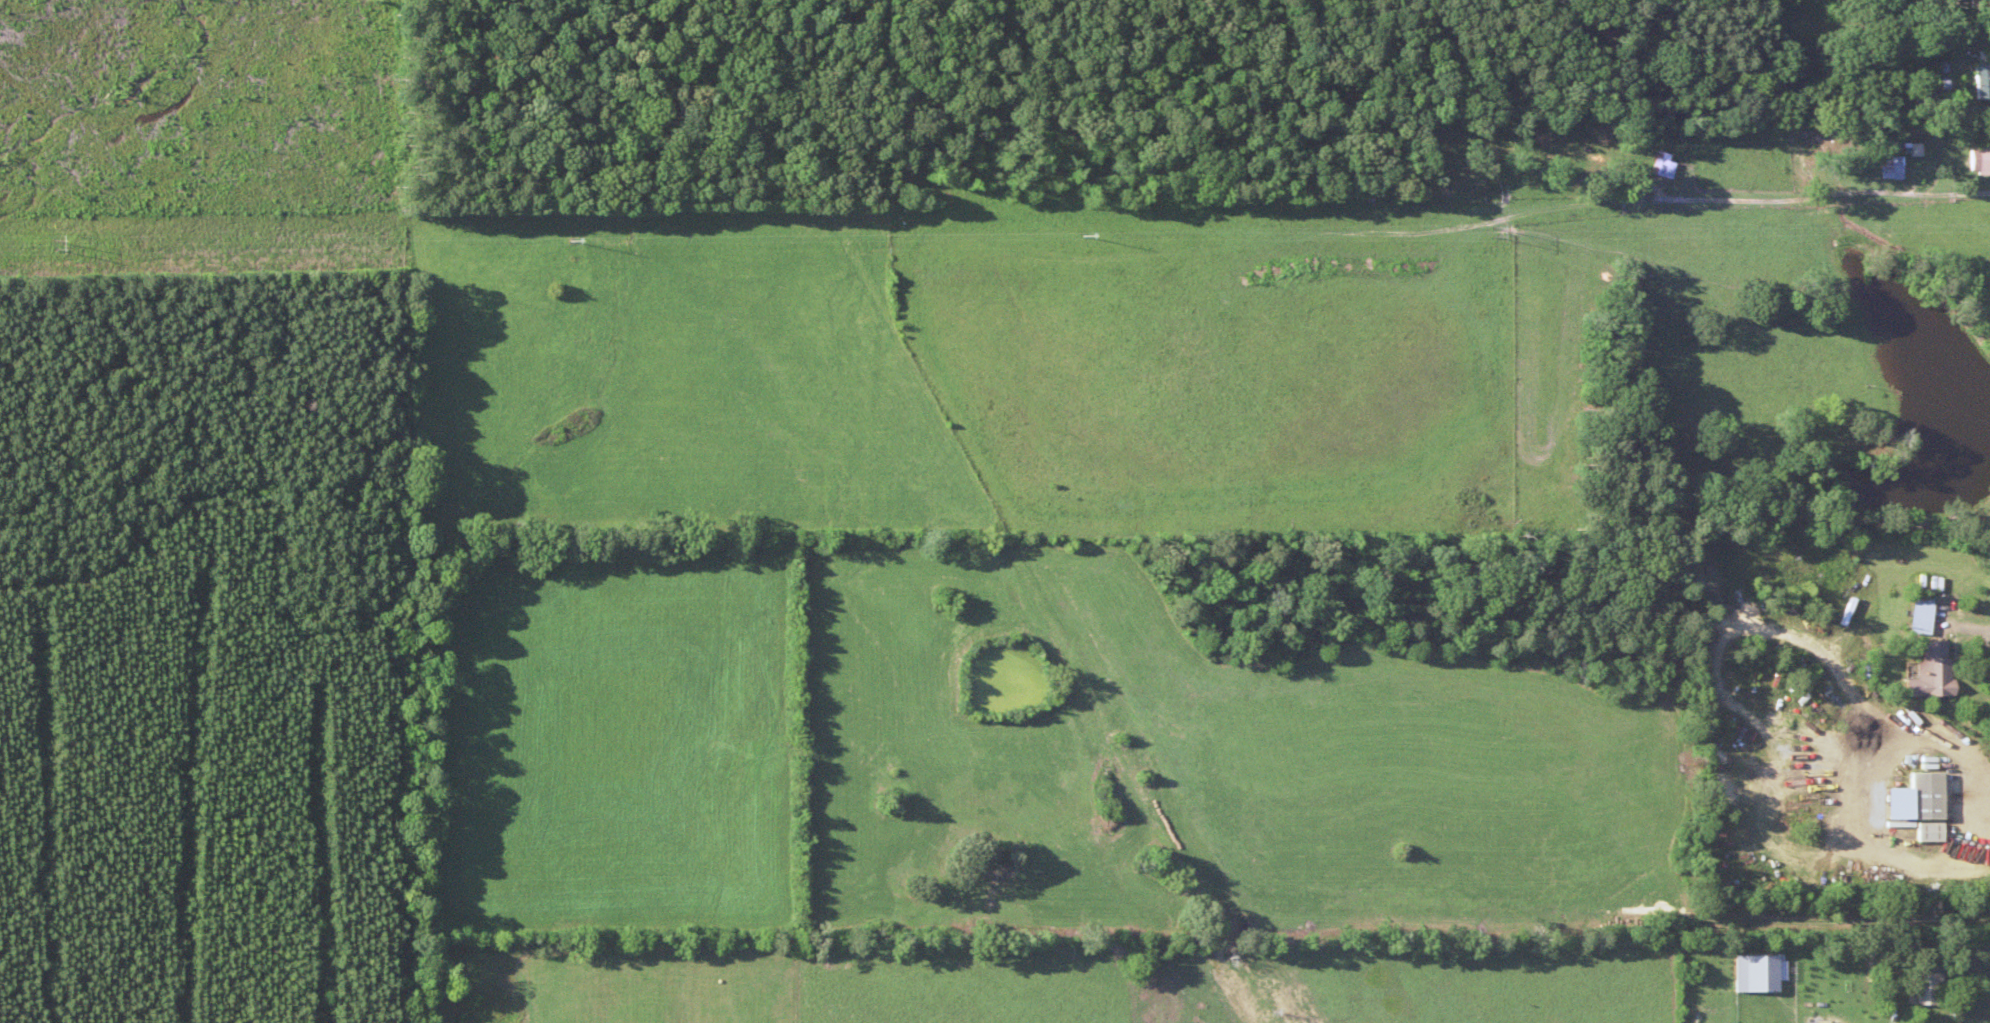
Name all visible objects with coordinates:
building: (1980, 80)
building: (1980, 158)
building: (1888, 167)
building: (1657, 169)
building: (1916, 613)
building: (1927, 671)
building: (1920, 795)
building: (1923, 832)
building: (1751, 973)
building: (1925, 985)

